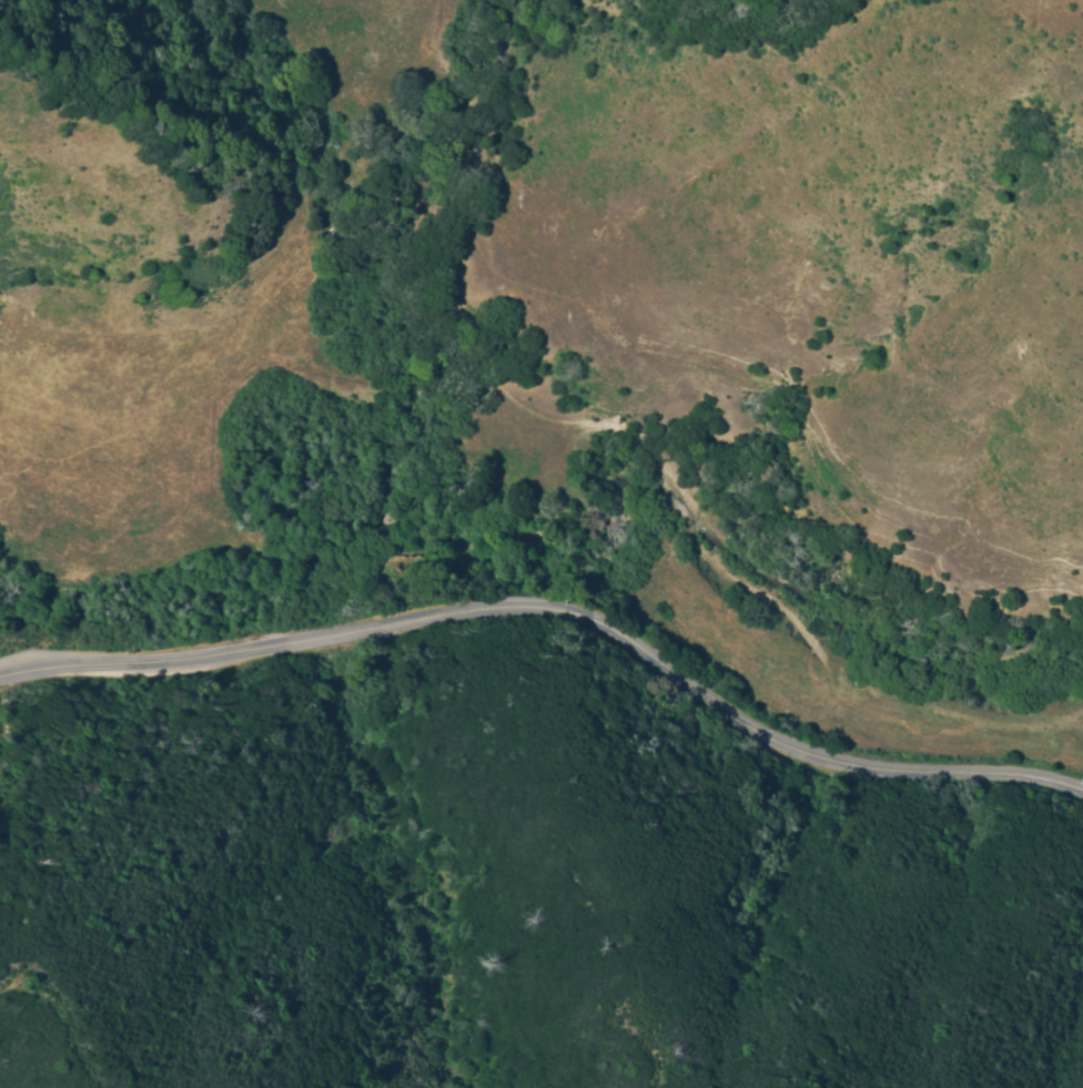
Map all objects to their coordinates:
road: (558, 616)

